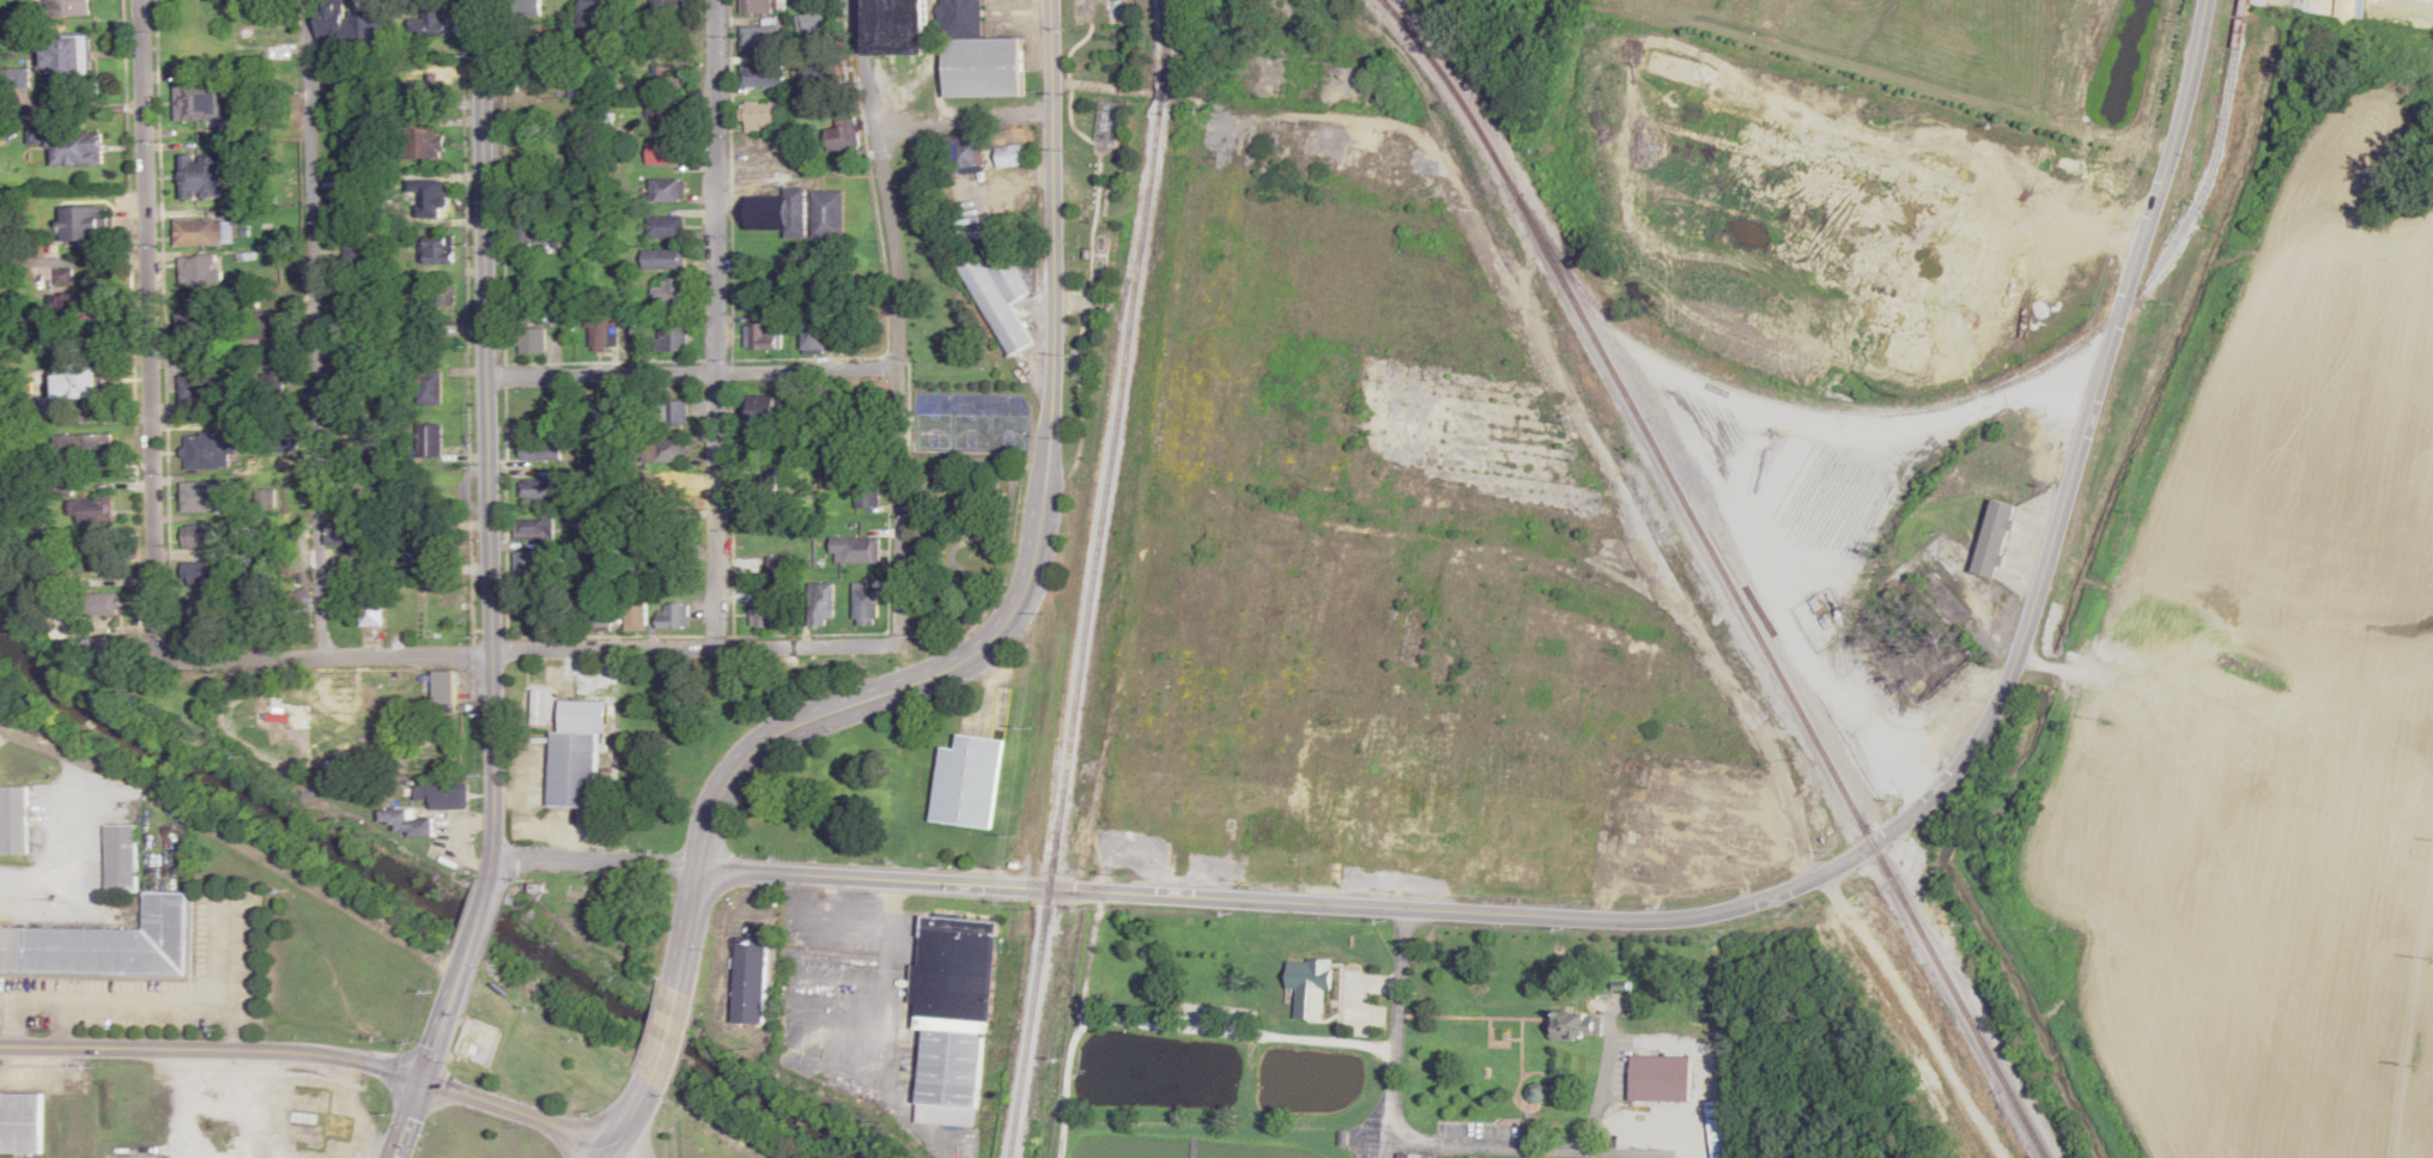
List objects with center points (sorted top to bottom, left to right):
building: (1397, 2)
road: (1760, 5)
building: (2310, 5)
building: (754, 6)
building: (62, 7)
building: (665, 12)
building: (426, 20)
building: (329, 25)
building: (894, 26)
building: (594, 31)
building: (753, 38)
railway: (1157, 43)
building: (196, 47)
building: (68, 55)
building: (973, 55)
building: (829, 73)
building: (757, 75)
building: (523, 77)
building: (665, 77)
road: (1091, 86)
building: (346, 97)
building: (201, 101)
building: (759, 115)
building: (656, 116)
road: (955, 121)
building: (837, 134)
building: (425, 145)
building: (75, 146)
road: (1603, 147)
building: (984, 151)
building: (662, 153)
building: (202, 176)
building: (665, 189)
building: (426, 195)
building: (1807, 212)
building: (775, 213)
road: (73, 214)
building: (823, 214)
building: (85, 223)
building: (529, 226)
building: (663, 228)
building: (205, 232)
road: (2076, 241)
building: (433, 253)
road: (1045, 253)
building: (661, 260)
building: (200, 271)
building: (672, 291)
building: (435, 296)
building: (997, 298)
road: (148, 313)
building: (545, 314)
road: (890, 320)
road: (712, 322)
building: (272, 325)
building: (205, 327)
road: (315, 327)
building: (596, 332)
building: (760, 337)
building: (671, 339)
building: (529, 340)
road: (686, 375)
building: (80, 380)
building: (429, 387)
building: (204, 393)
railway: (1989, 396)
building: (671, 412)
road: (2082, 434)
building: (430, 439)
building: (89, 447)
building: (540, 448)
road: (484, 449)
building: (667, 450)
building: (202, 451)
building: (540, 489)
building: (866, 493)
building: (205, 496)
building: (97, 509)
building: (535, 527)
building: (205, 535)
building: (1994, 538)
building: (431, 545)
building: (855, 548)
building: (673, 563)
building: (779, 564)
building: (107, 565)
building: (534, 566)
building: (204, 572)
railway: (1723, 572)
railway: (1088, 578)
road: (1032, 583)
building: (103, 604)
building: (819, 604)
building: (864, 605)
building: (371, 606)
building: (636, 612)
building: (602, 614)
building: (764, 614)
building: (674, 616)
road: (516, 651)
building: (445, 687)
building: (541, 708)
road: (752, 752)
building: (575, 769)
building: (967, 782)
building: (450, 795)
building: (402, 819)
building: (13, 820)
road: (63, 856)
building: (120, 859)
river: (430, 897)
road: (1202, 901)
road: (469, 941)
building: (107, 944)
building: (760, 982)
road: (235, 989)
road: (117, 1005)
road: (1918, 1013)
building: (954, 1017)
building: (1577, 1024)
road: (17, 1025)
road: (67, 1025)
road: (437, 1032)
road: (1398, 1035)
road: (665, 1037)
aquafarm: (1401, 1042)
road: (311, 1053)
traffic signals: (420, 1081)
road: (188, 1103)
road: (406, 1120)
road: (626, 1121)
building: (20, 1122)
road: (1588, 1126)
building: (1724, 1128)
building: (1415, 1156)

